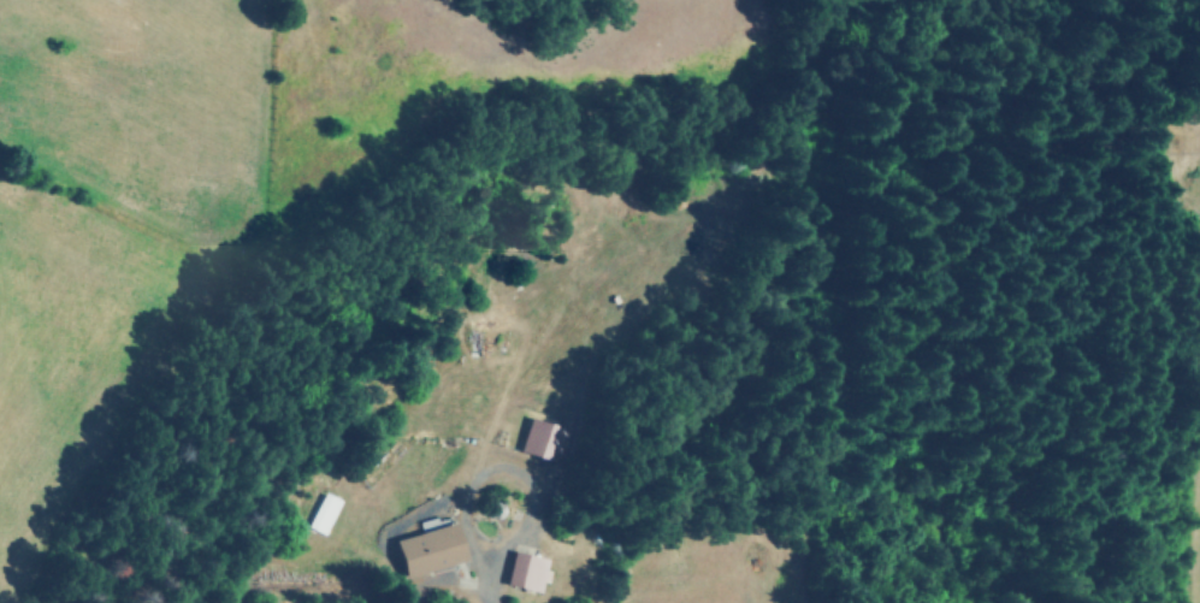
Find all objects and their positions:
building: (539, 436)
building: (321, 513)
building: (427, 549)
building: (522, 571)

